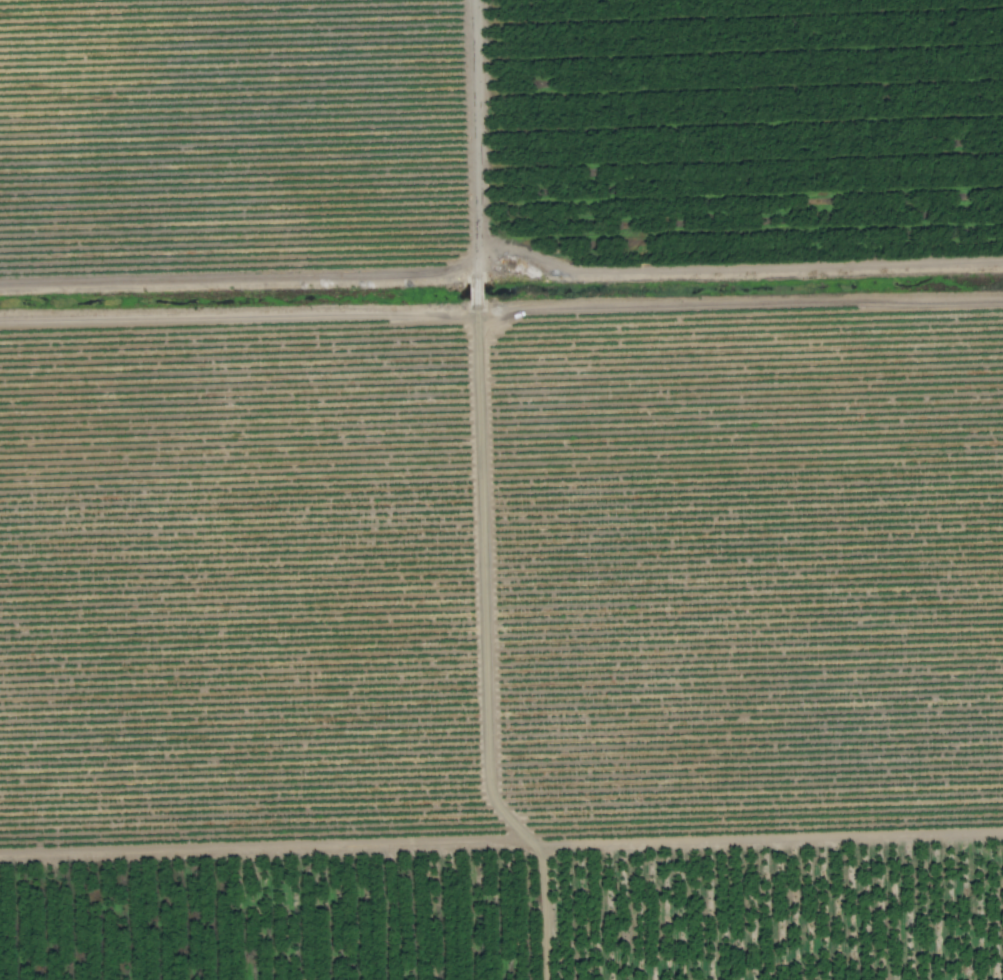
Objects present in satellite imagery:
road: (607, 285)
road: (473, 296)
road: (501, 840)
road: (540, 910)

